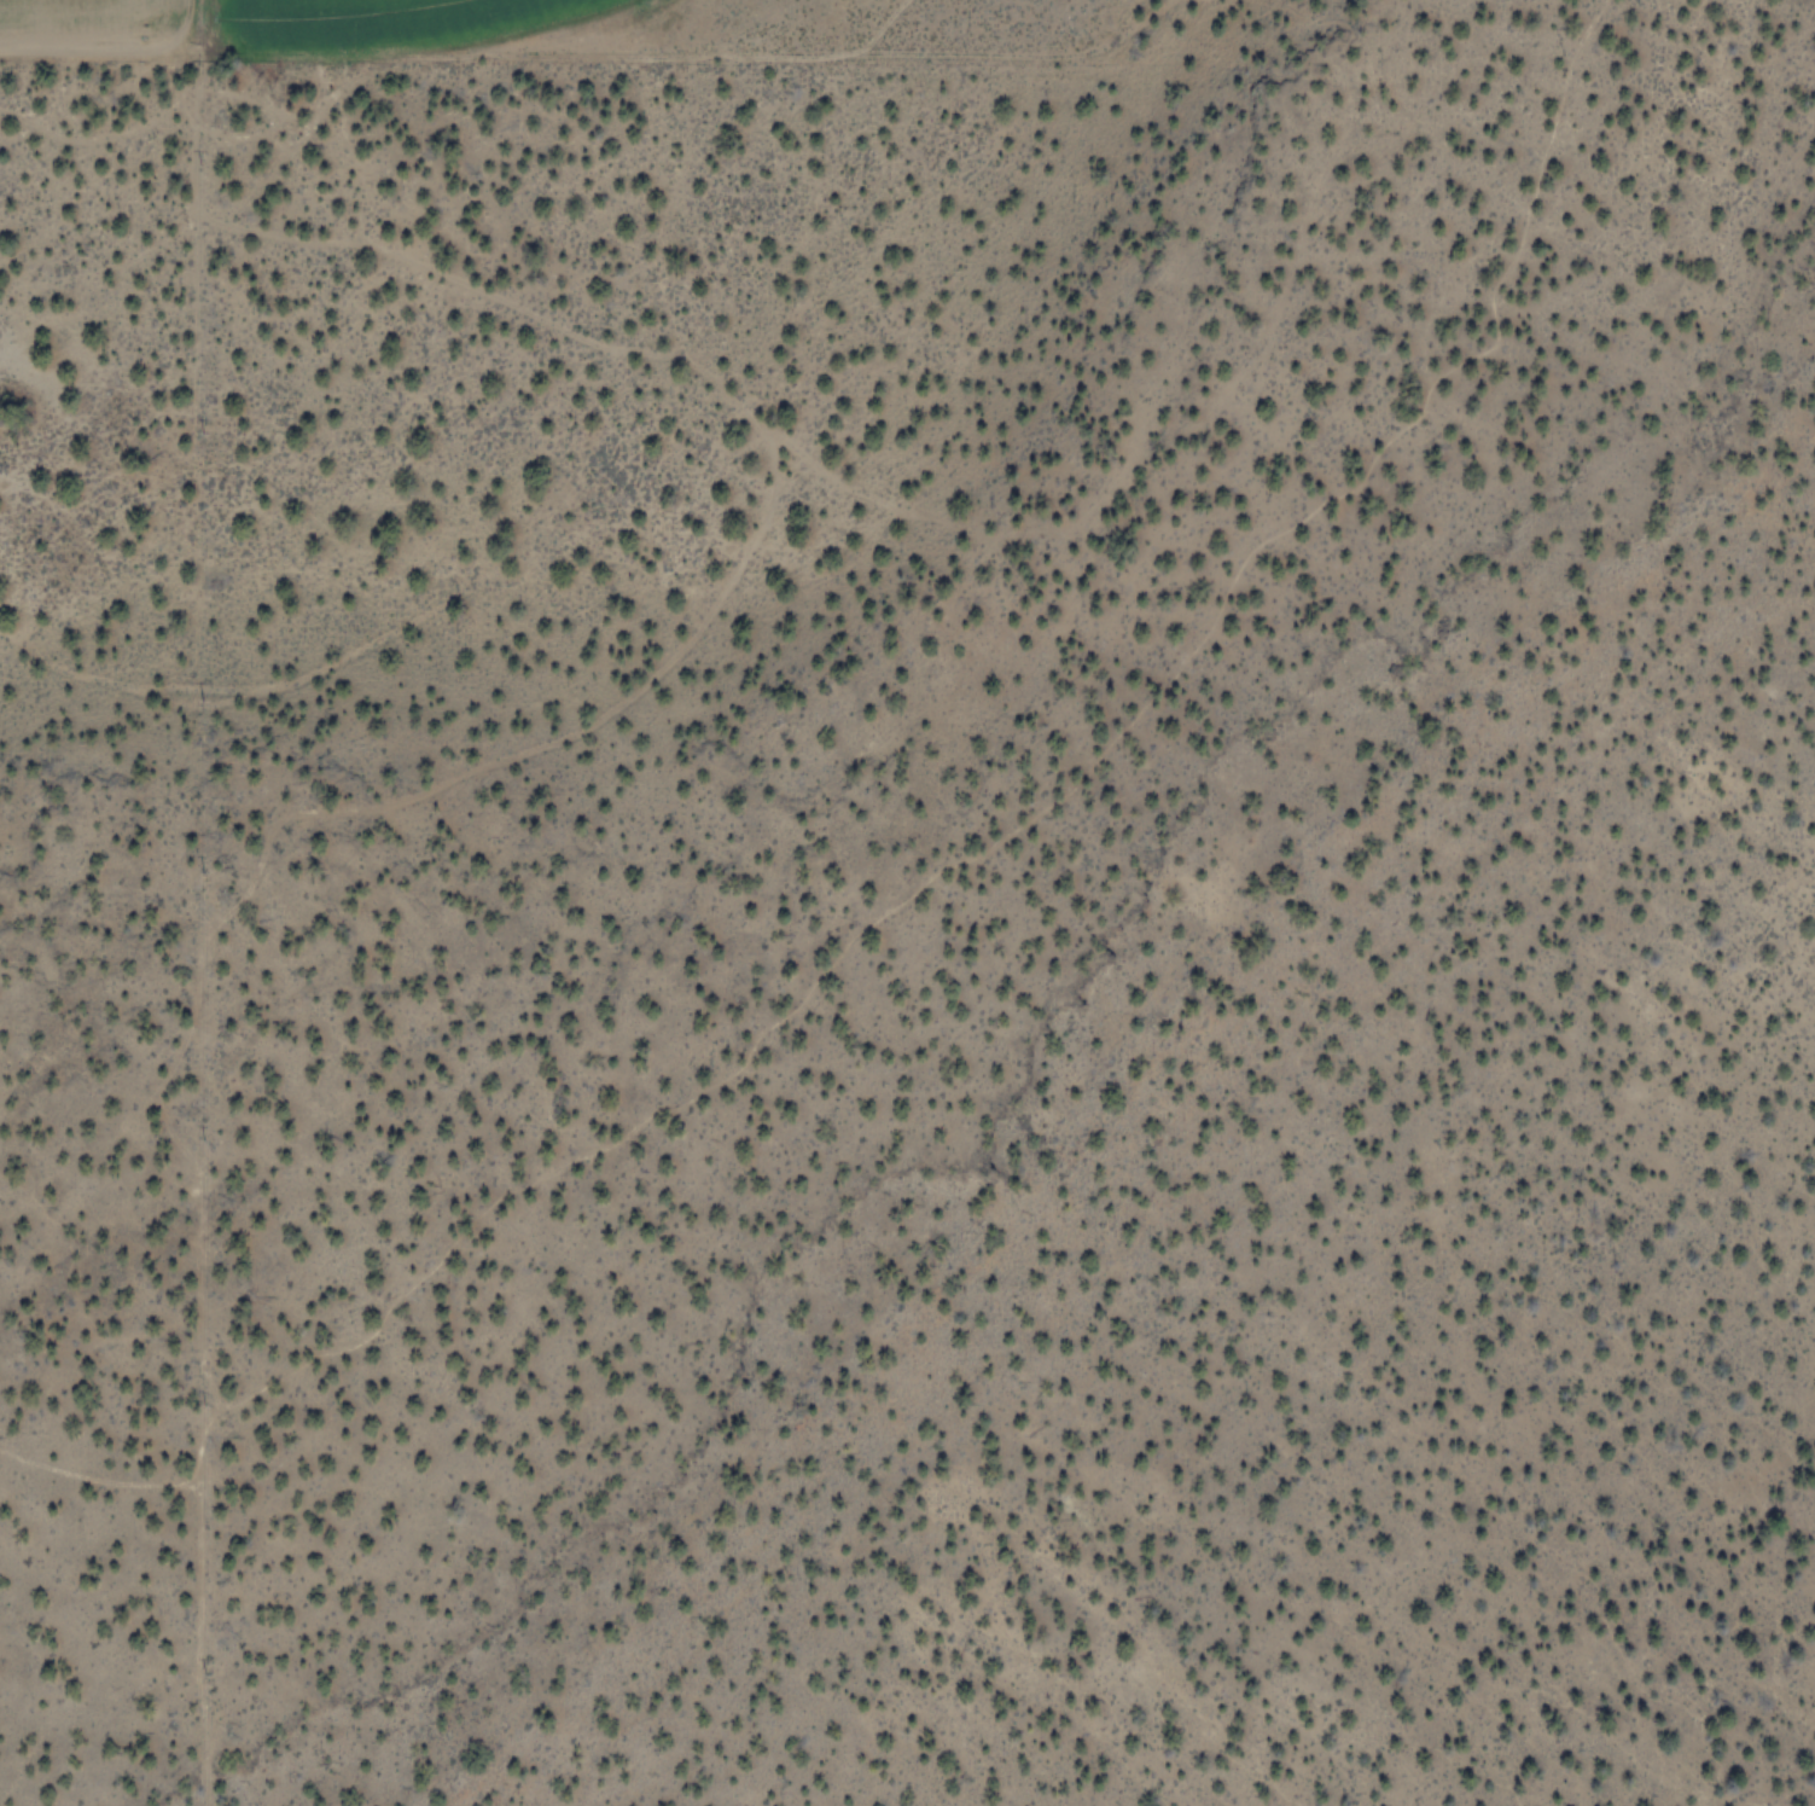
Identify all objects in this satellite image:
crop: (421, 28)

